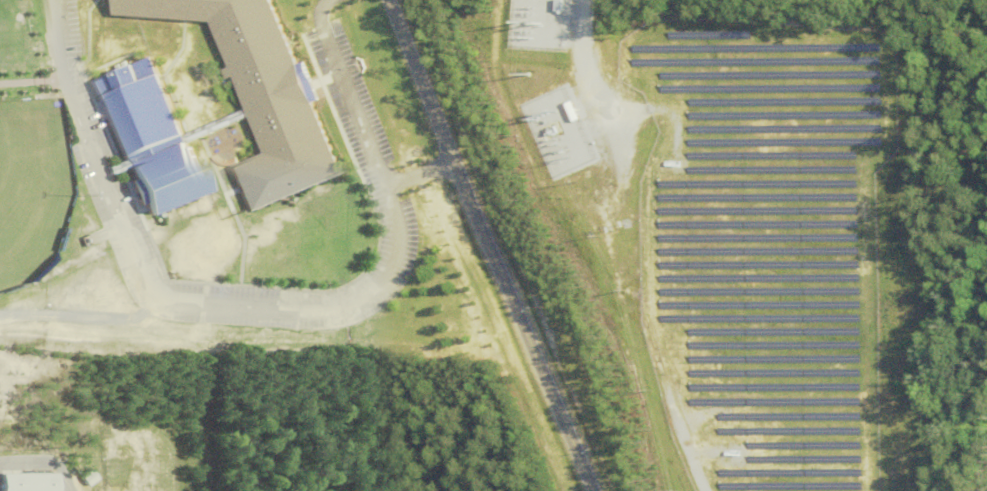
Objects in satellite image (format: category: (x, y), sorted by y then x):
road: (316, 11)
road: (43, 18)
power substation: (534, 25)
flagpole: (359, 64)
road: (32, 84)
building: (210, 88)
building: (191, 96)
building: (272, 103)
power substation: (558, 134)
building: (150, 135)
road: (422, 174)
park: (33, 187)
road: (488, 245)
solar farm: (761, 246)
road: (269, 307)
park: (92, 419)
building: (29, 481)

